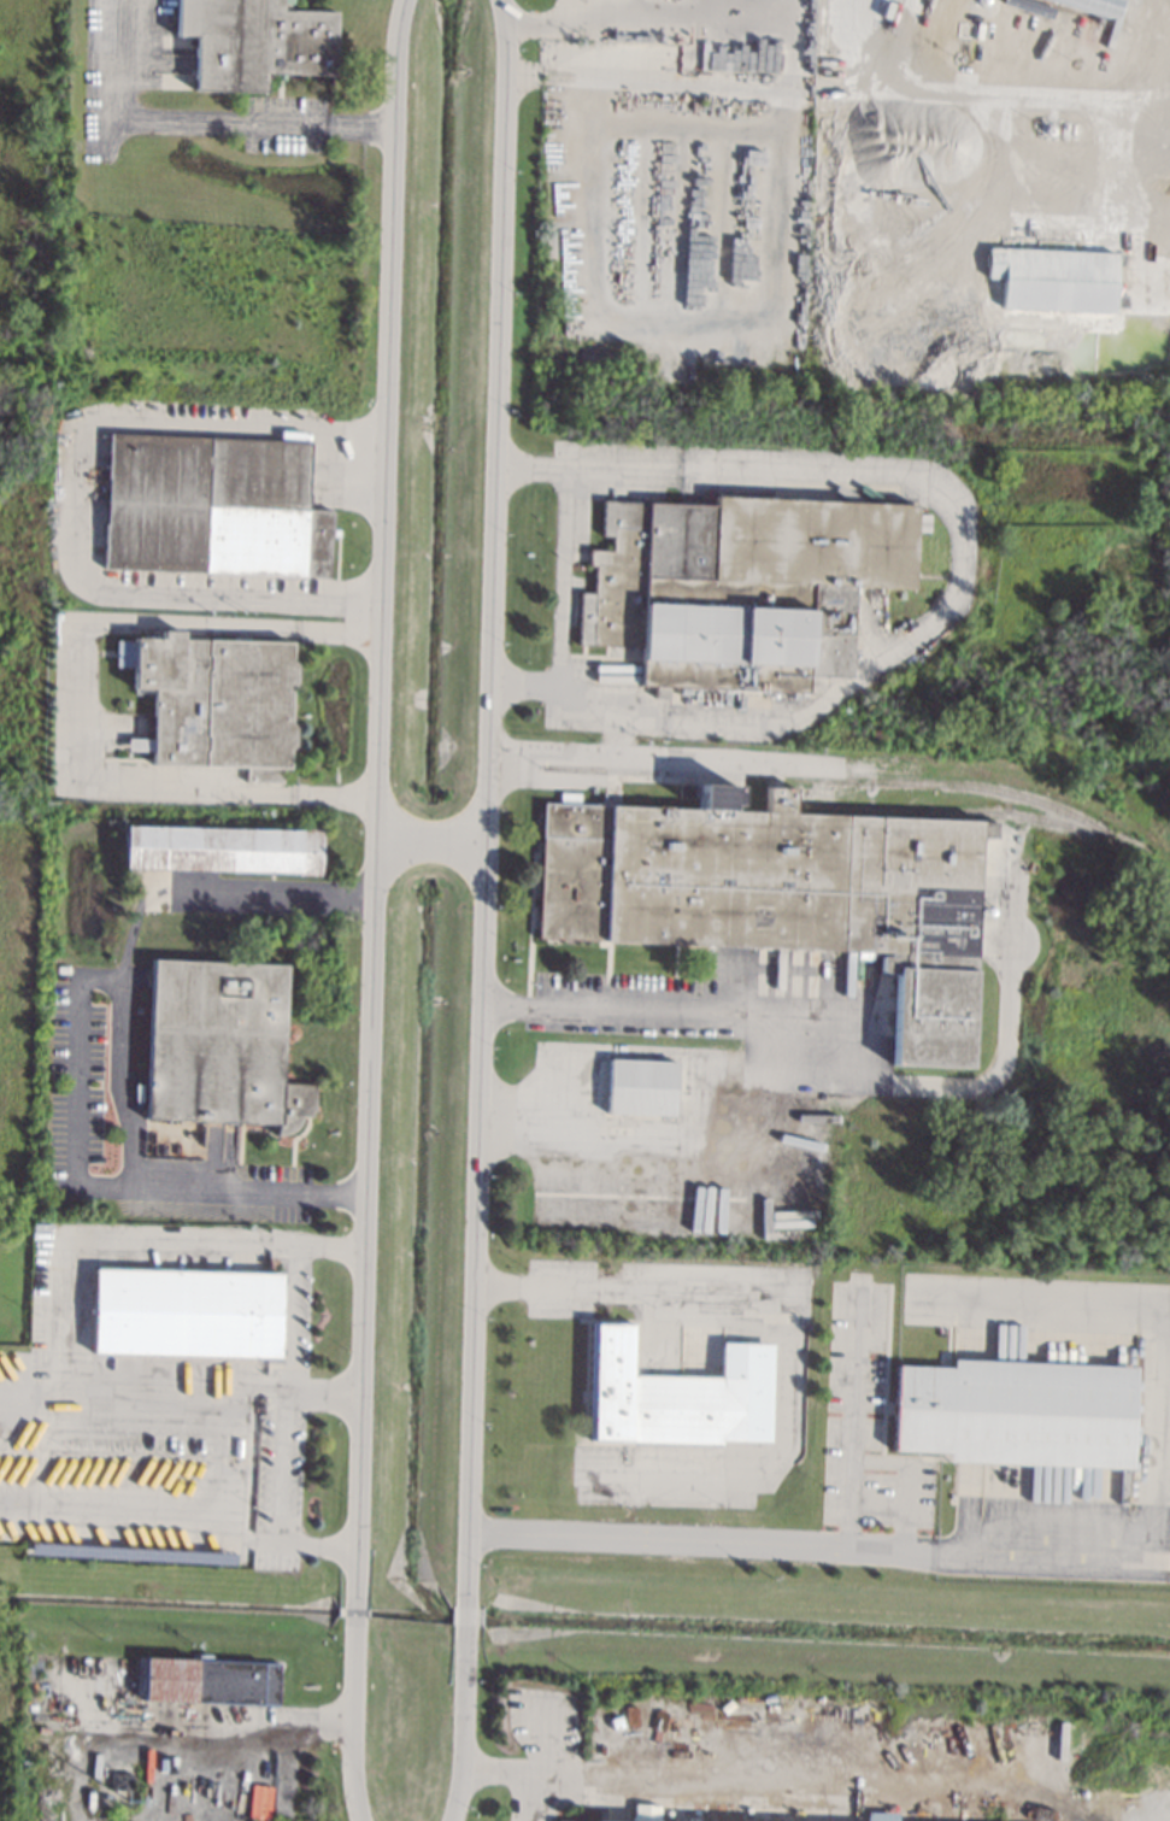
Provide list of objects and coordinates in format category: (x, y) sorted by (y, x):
building: (1087, 5)
road: (645, 7)
building: (254, 41)
road: (872, 45)
road: (1017, 95)
road: (206, 114)
building: (1053, 278)
road: (389, 399)
road: (81, 503)
building: (212, 505)
road: (568, 565)
building: (740, 587)
building: (214, 699)
road: (70, 704)
building: (139, 745)
road: (490, 803)
road: (383, 822)
road: (436, 844)
building: (223, 848)
building: (780, 892)
road: (124, 1035)
building: (221, 1044)
road: (846, 1045)
crop: (14, 1059)
building: (640, 1087)
road: (76, 1092)
road: (369, 1224)
road: (113, 1234)
road: (612, 1291)
building: (186, 1312)
road: (212, 1385)
building: (676, 1396)
building: (1016, 1412)
road: (852, 1416)
road: (907, 1479)
road: (182, 1510)
road: (794, 1549)
road: (357, 1615)
road: (470, 1619)
building: (211, 1681)
road: (353, 1722)
road: (468, 1727)
road: (269, 1738)
road: (522, 1770)
road: (813, 1778)
building: (119, 1781)
building: (645, 1813)
building: (878, 1816)
building: (558, 1820)

